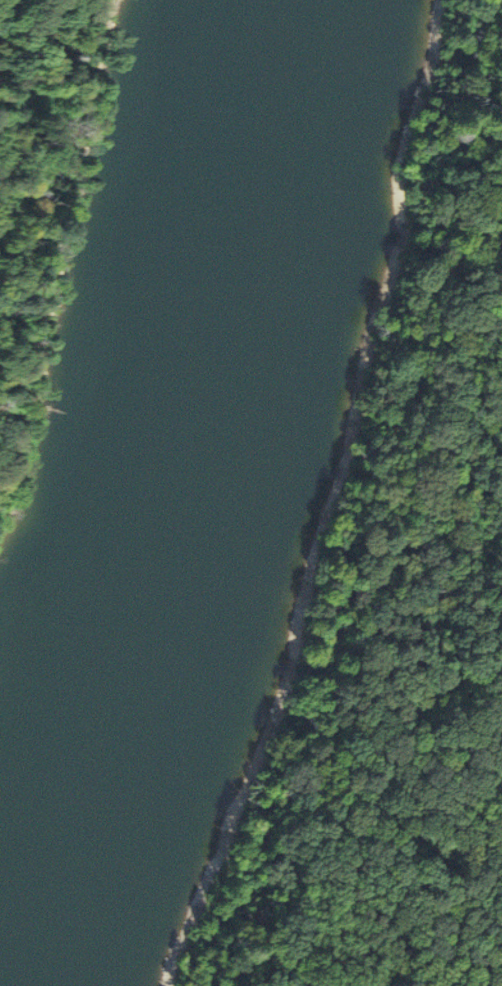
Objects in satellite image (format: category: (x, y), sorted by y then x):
river: (177, 467)

